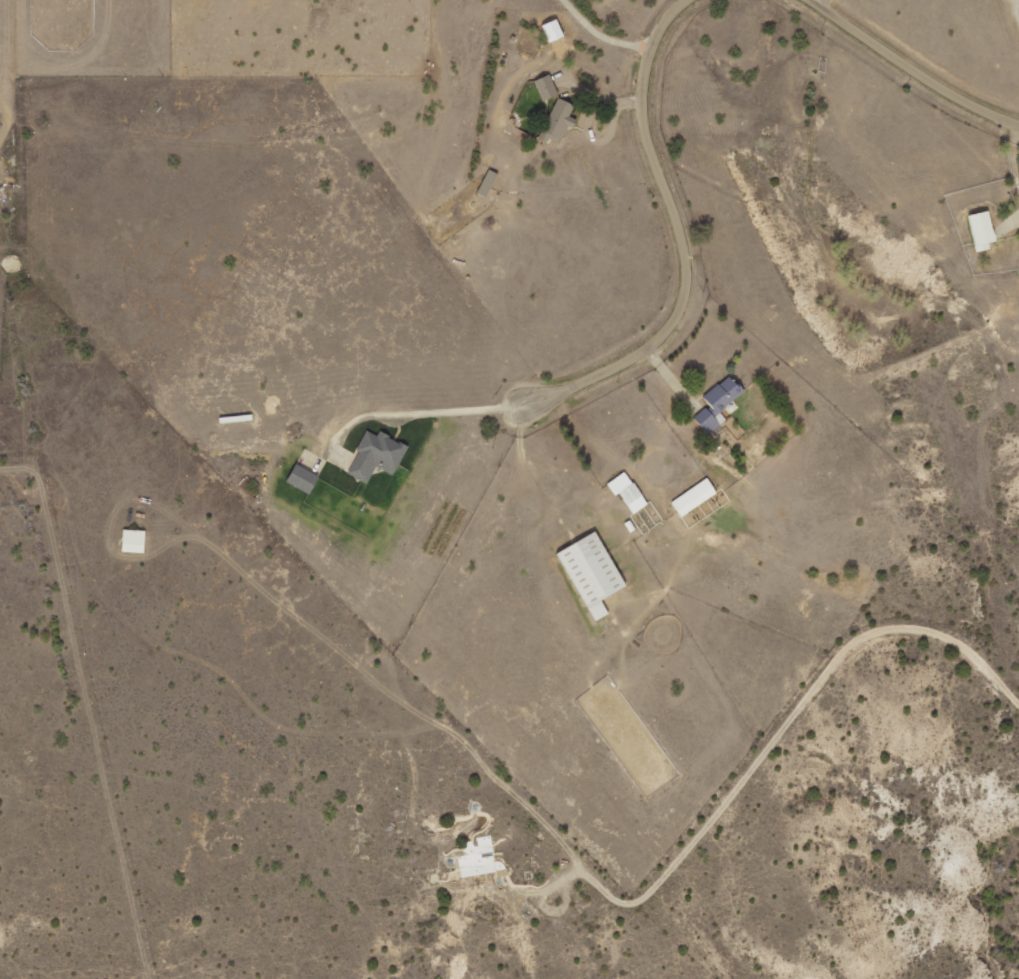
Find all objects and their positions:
road: (912, 65)
building: (546, 87)
building: (558, 121)
building: (487, 183)
building: (982, 230)
road: (681, 244)
building: (718, 403)
building: (376, 455)
building: (302, 478)
building: (627, 492)
building: (693, 497)
building: (134, 540)
building: (592, 573)
road: (860, 655)
building: (477, 858)

